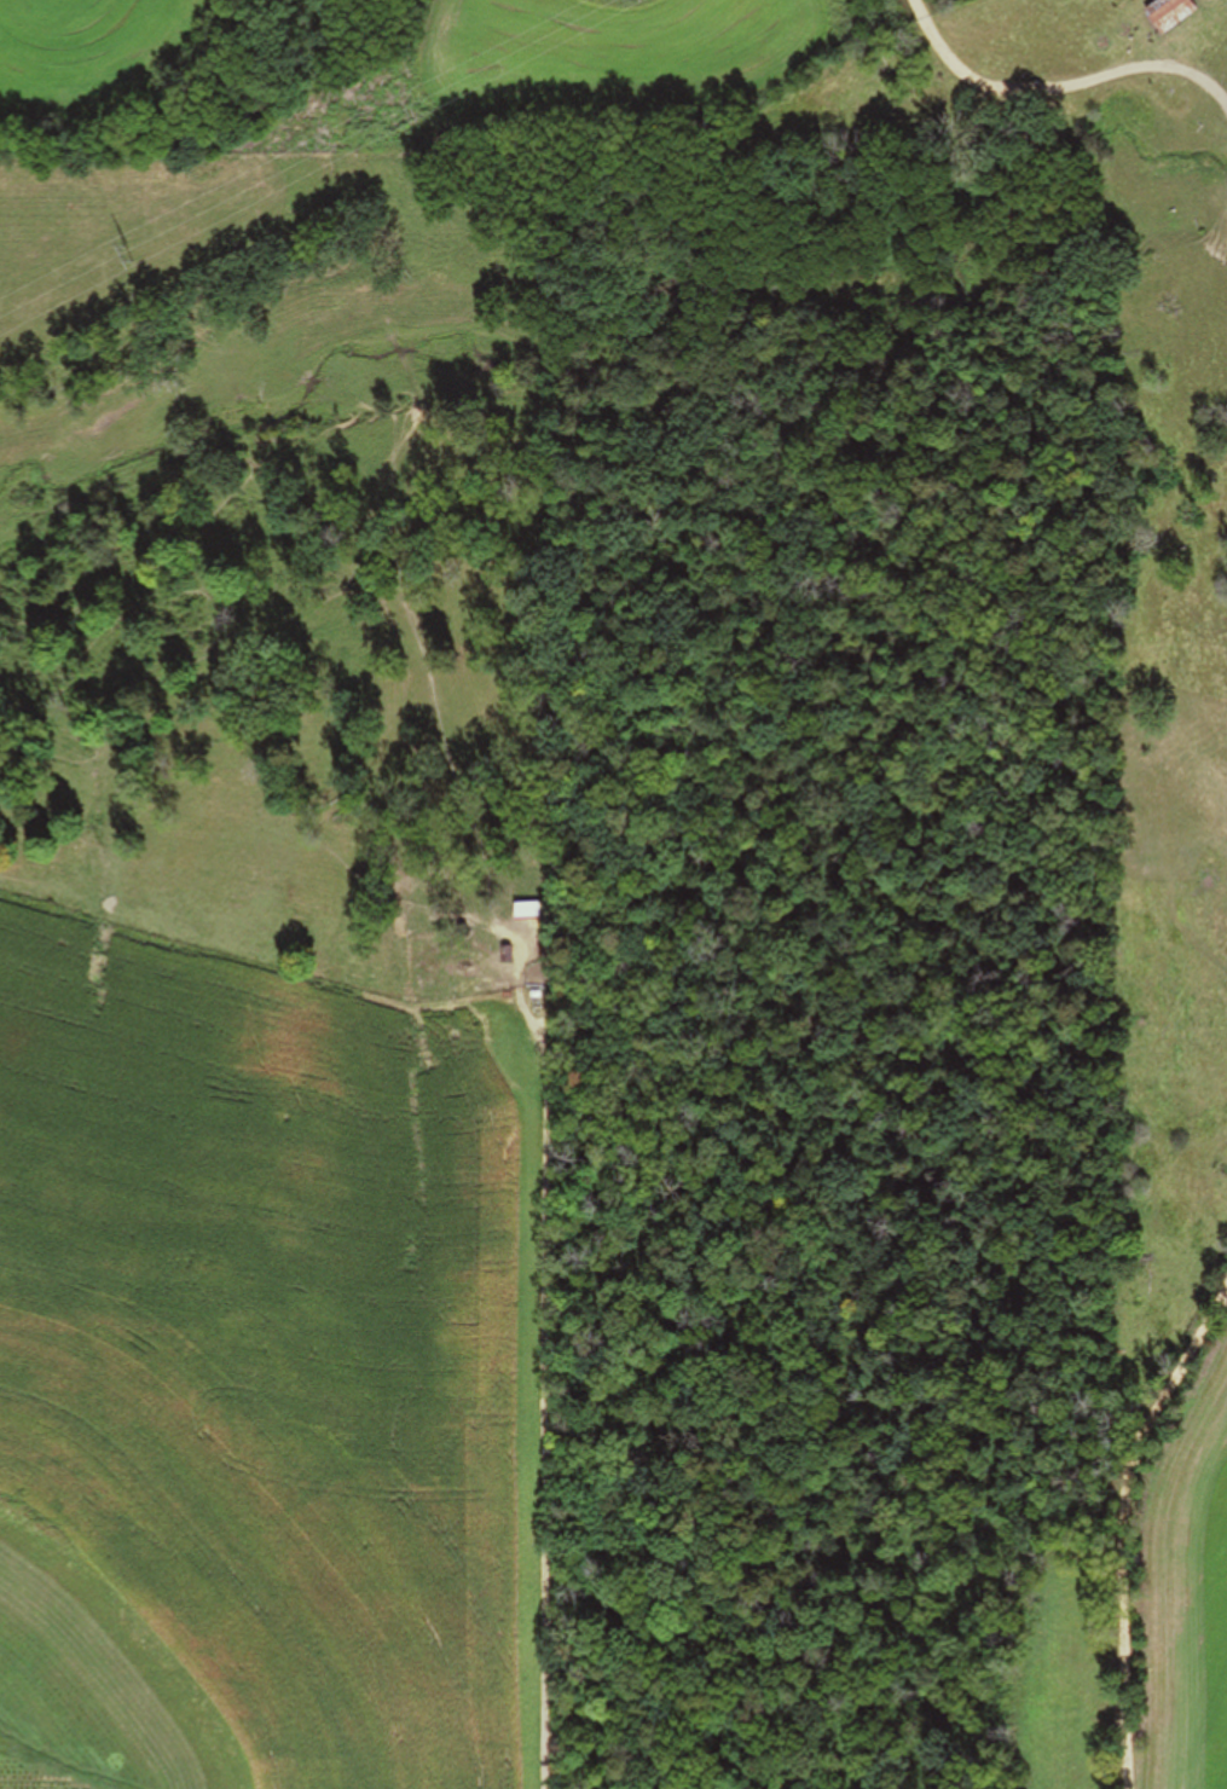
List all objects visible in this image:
building: (1168, 15)
power tower: (121, 256)
road: (395, 1540)
road: (1153, 1551)

